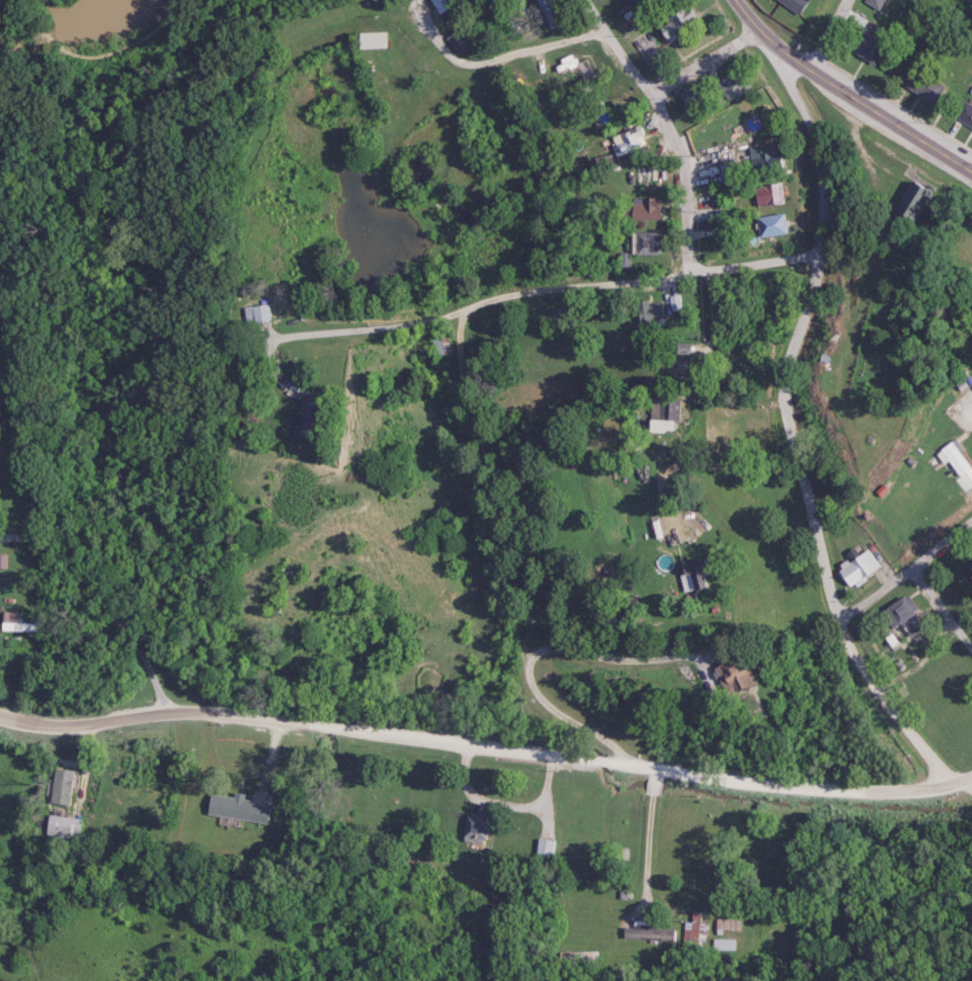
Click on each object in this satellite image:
building: (372, 1)
building: (872, 3)
building: (439, 5)
building: (791, 5)
building: (546, 10)
building: (677, 22)
road: (828, 30)
building: (369, 41)
building: (865, 49)
road: (525, 50)
road: (710, 57)
building: (575, 65)
building: (919, 84)
building: (731, 85)
road: (852, 91)
building: (964, 114)
building: (750, 117)
road: (679, 122)
building: (627, 140)
building: (766, 195)
building: (904, 203)
building: (642, 209)
building: (768, 226)
building: (643, 243)
road: (550, 291)
building: (672, 303)
building: (965, 307)
building: (254, 313)
building: (647, 313)
building: (849, 333)
building: (439, 344)
building: (661, 365)
road: (734, 394)
building: (654, 426)
road: (799, 435)
road: (721, 463)
building: (955, 464)
road: (493, 484)
building: (2, 563)
building: (858, 567)
road: (907, 573)
building: (689, 578)
road: (122, 600)
road: (944, 604)
building: (900, 617)
building: (13, 624)
road: (609, 656)
building: (730, 680)
road: (569, 717)
road: (101, 722)
road: (587, 762)
building: (61, 787)
road: (506, 802)
building: (237, 808)
building: (61, 827)
building: (475, 827)
road: (653, 844)
building: (544, 849)
road: (758, 854)
building: (726, 924)
building: (645, 933)
building: (694, 933)
building: (723, 944)

